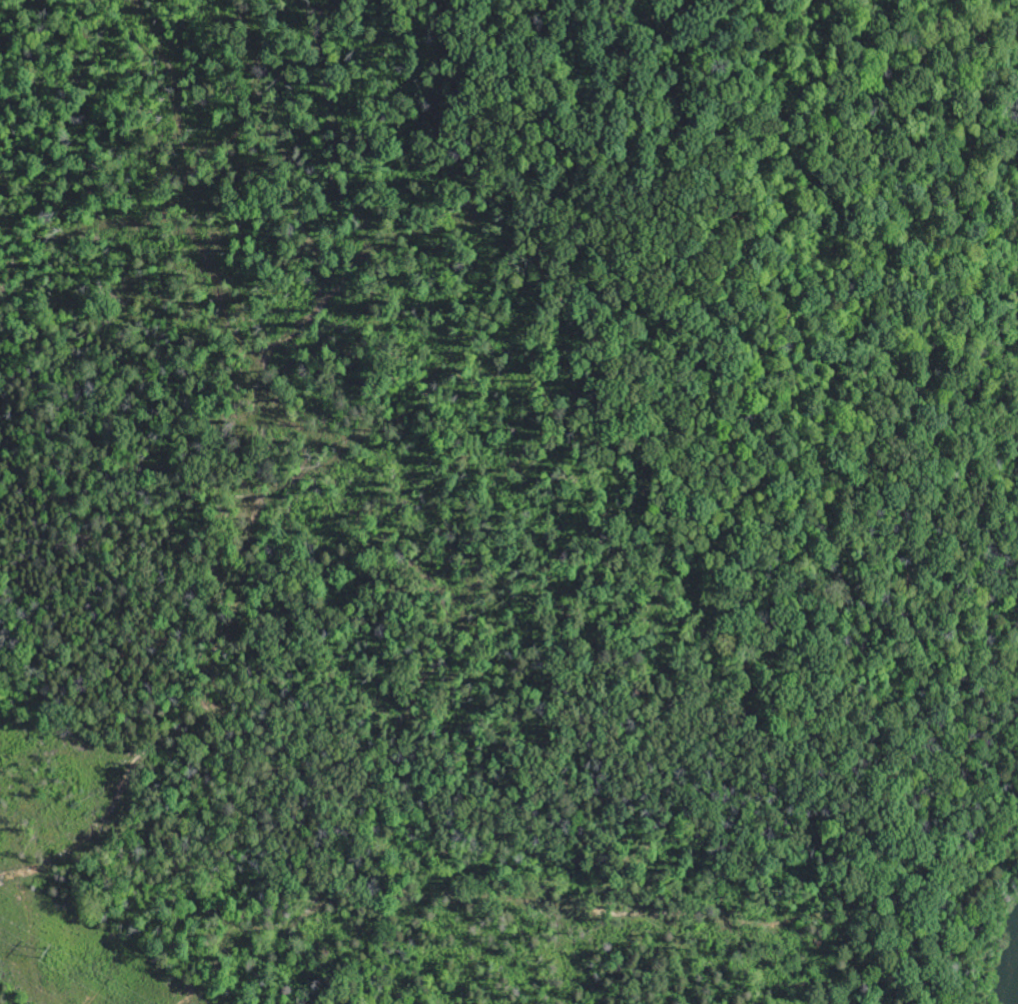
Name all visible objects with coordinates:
power tower: (65, 945)

